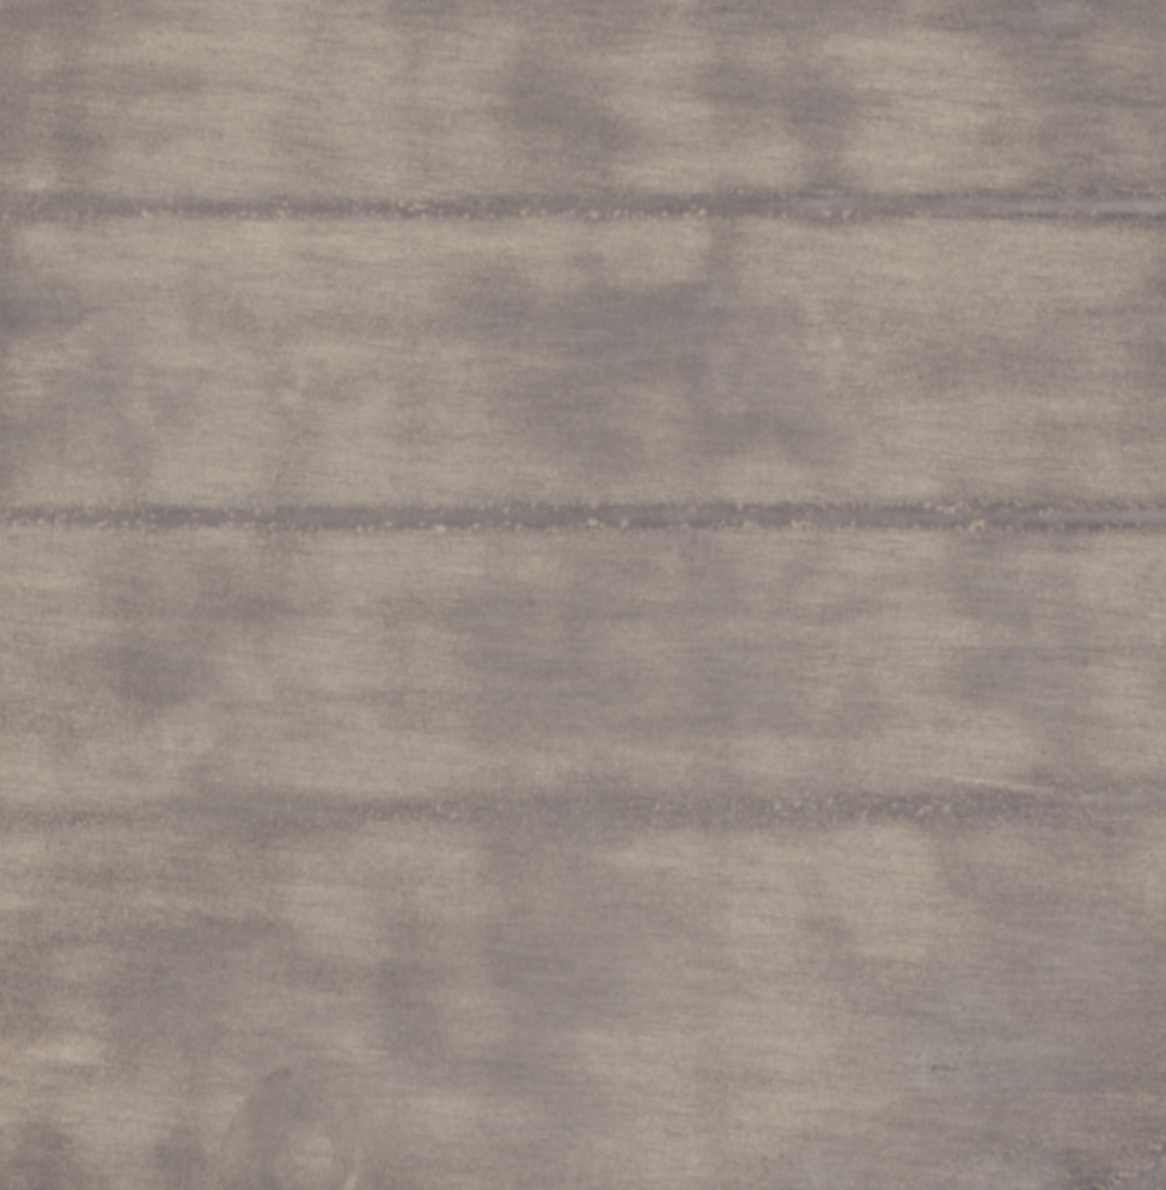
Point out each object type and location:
crop: (582, 594)

